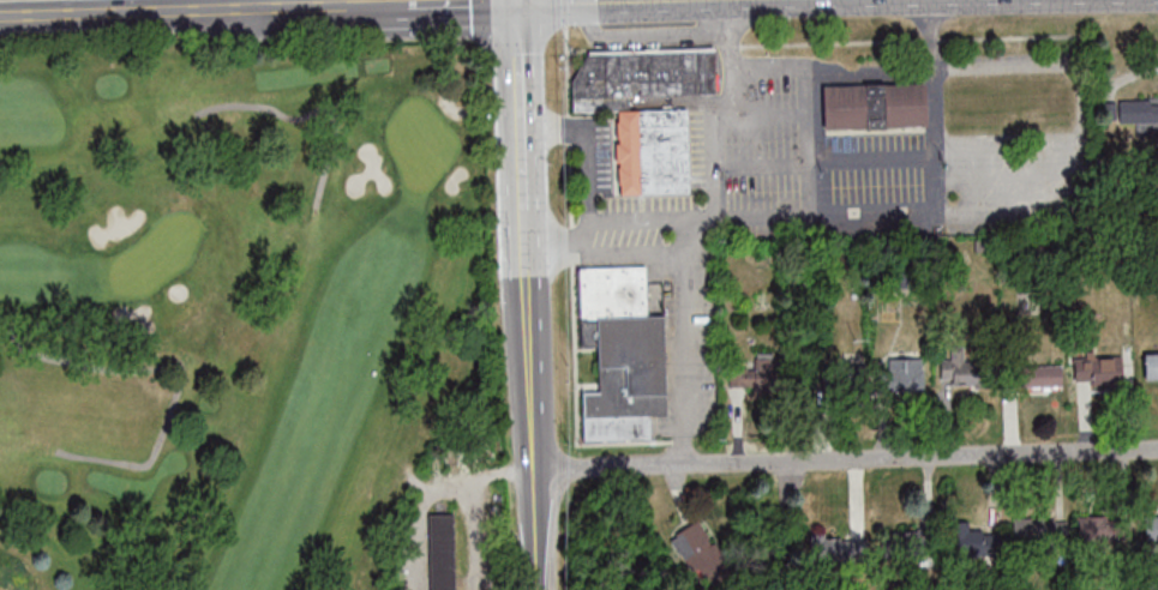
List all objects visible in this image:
road: (601, 0)
road: (516, 1)
traffic signals: (517, 2)
road: (208, 5)
road: (251, 5)
road: (425, 5)
road: (107, 6)
road: (316, 7)
road: (149, 12)
road: (656, 38)
road: (812, 70)
building: (638, 77)
road: (518, 104)
building: (874, 106)
building: (1134, 110)
road: (716, 138)
road: (935, 140)
building: (650, 151)
road: (586, 163)
road: (995, 211)
road: (523, 234)
road: (684, 239)
road: (685, 279)
park: (246, 320)
road: (527, 342)
building: (622, 354)
building: (1151, 366)
building: (1098, 371)
building: (967, 372)
building: (760, 373)
building: (883, 375)
building: (1040, 375)
road: (845, 459)
road: (503, 472)
road: (532, 507)
building: (1104, 528)
building: (1151, 528)
building: (1039, 529)
road: (476, 534)
building: (972, 540)
building: (906, 544)
building: (835, 549)
building: (442, 552)
building: (698, 553)

